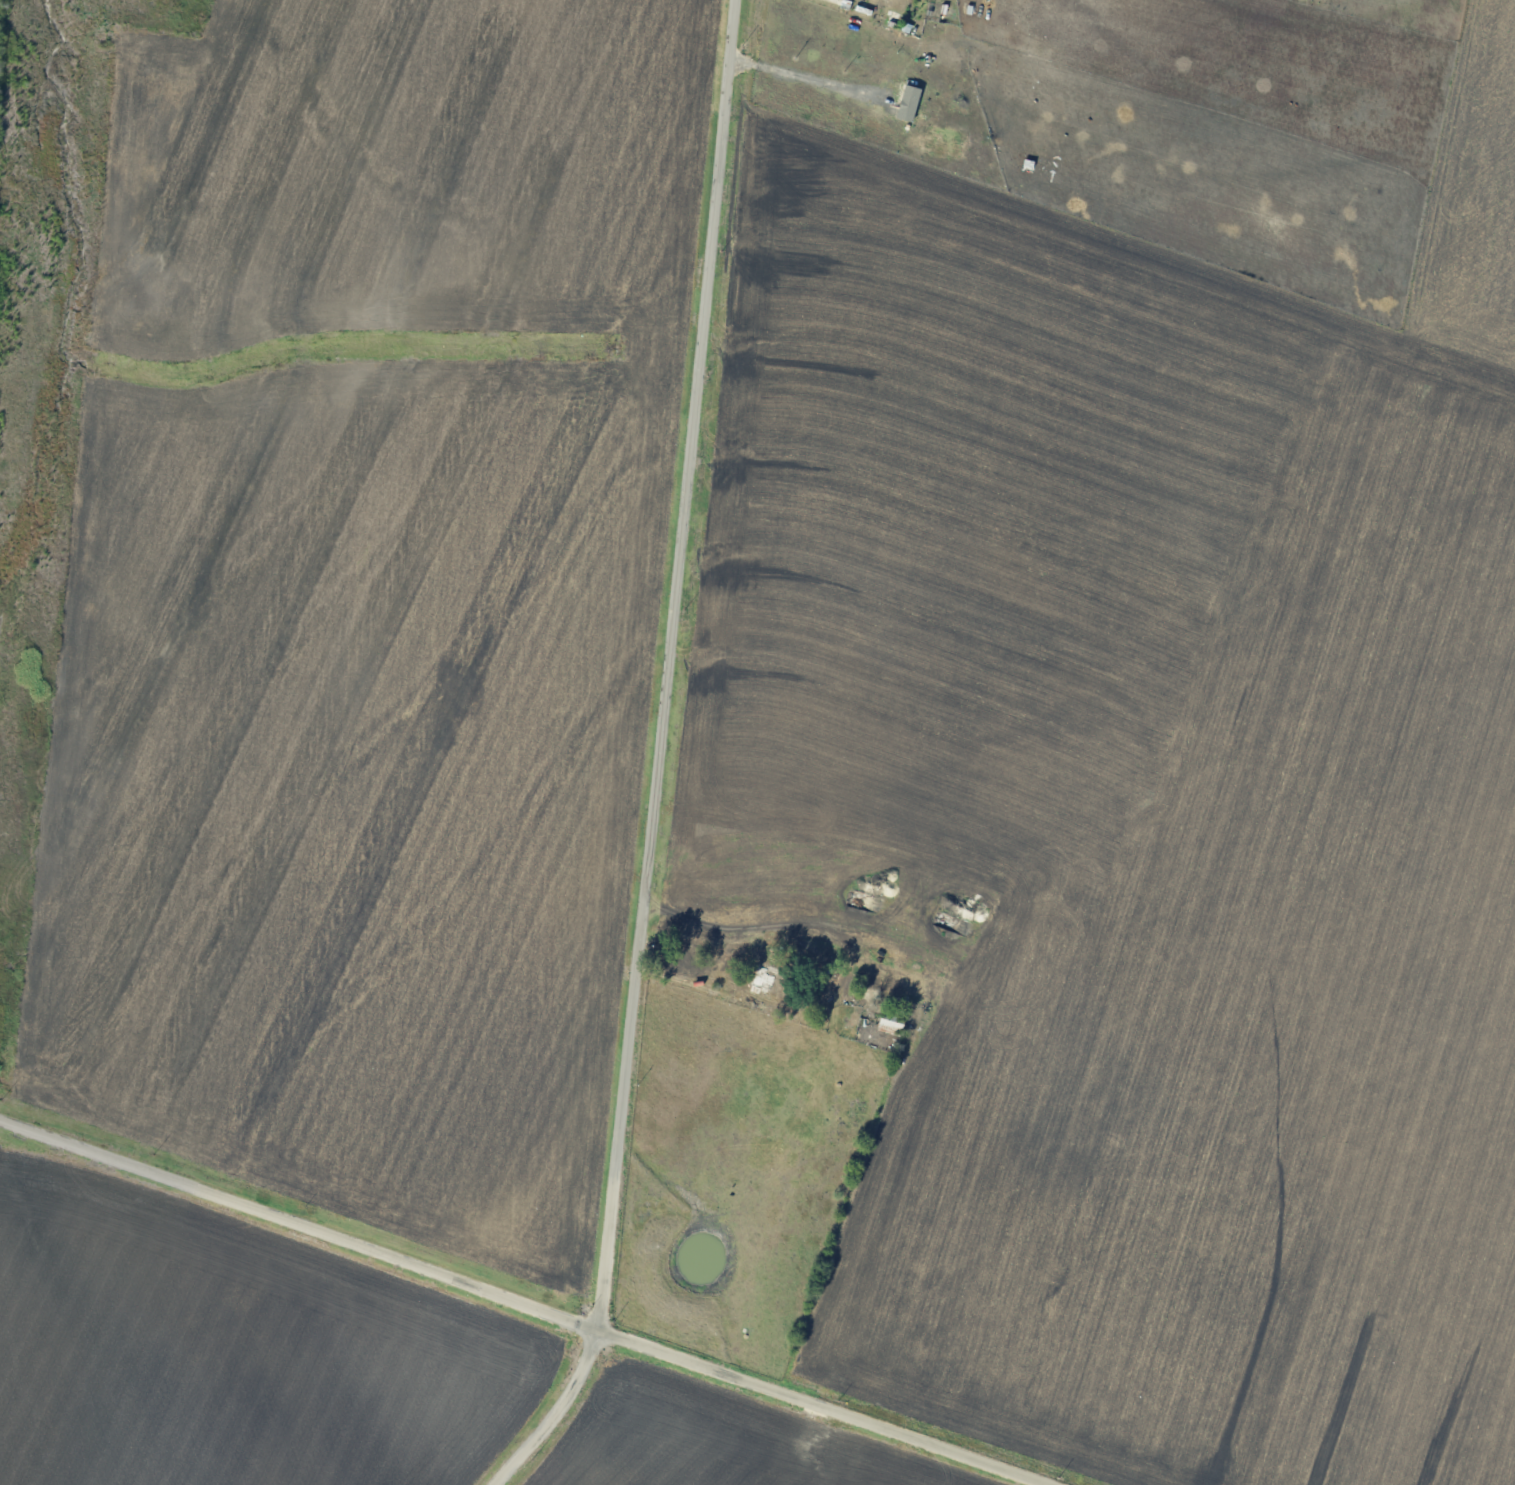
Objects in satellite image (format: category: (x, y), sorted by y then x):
road: (810, 80)
building: (910, 102)
road: (669, 665)
building: (765, 978)
road: (524, 1305)
road: (557, 1414)

